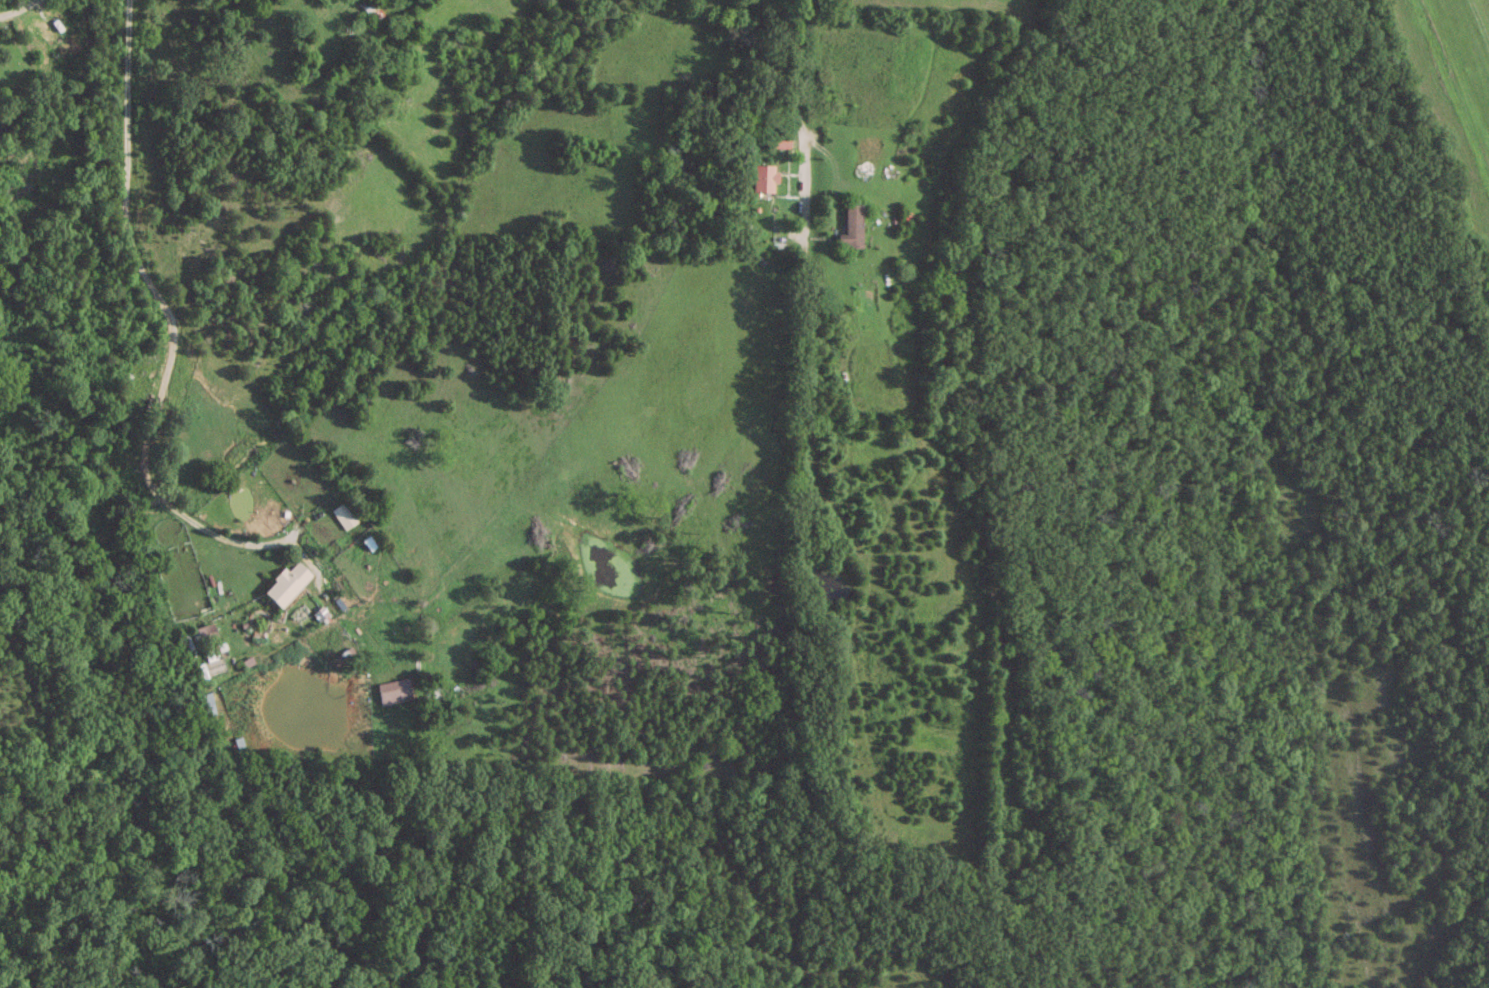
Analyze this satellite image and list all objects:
road: (17, 8)
building: (372, 10)
road: (796, 118)
building: (778, 141)
building: (763, 179)
building: (851, 232)
road: (171, 347)
building: (285, 583)
building: (205, 704)

